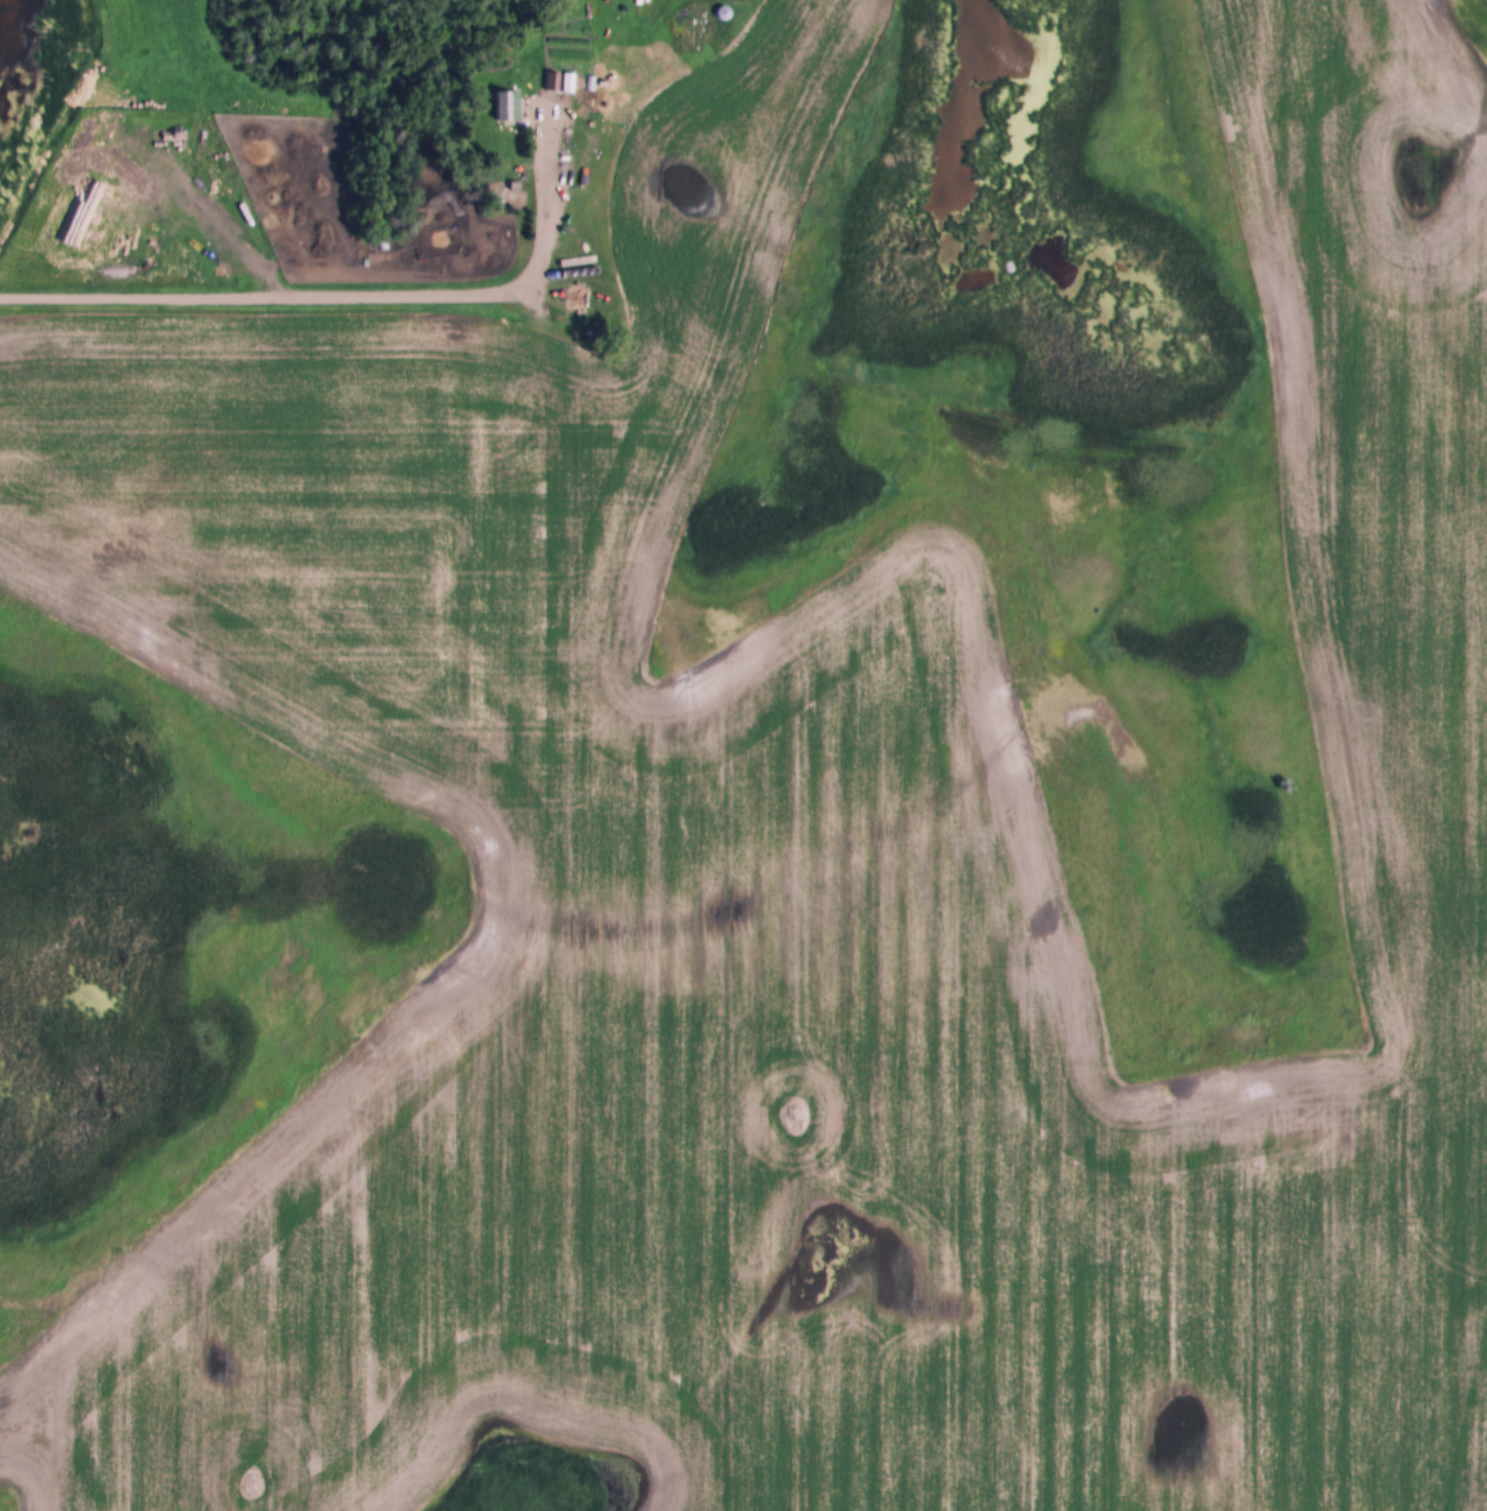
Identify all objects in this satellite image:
road: (334, 300)

